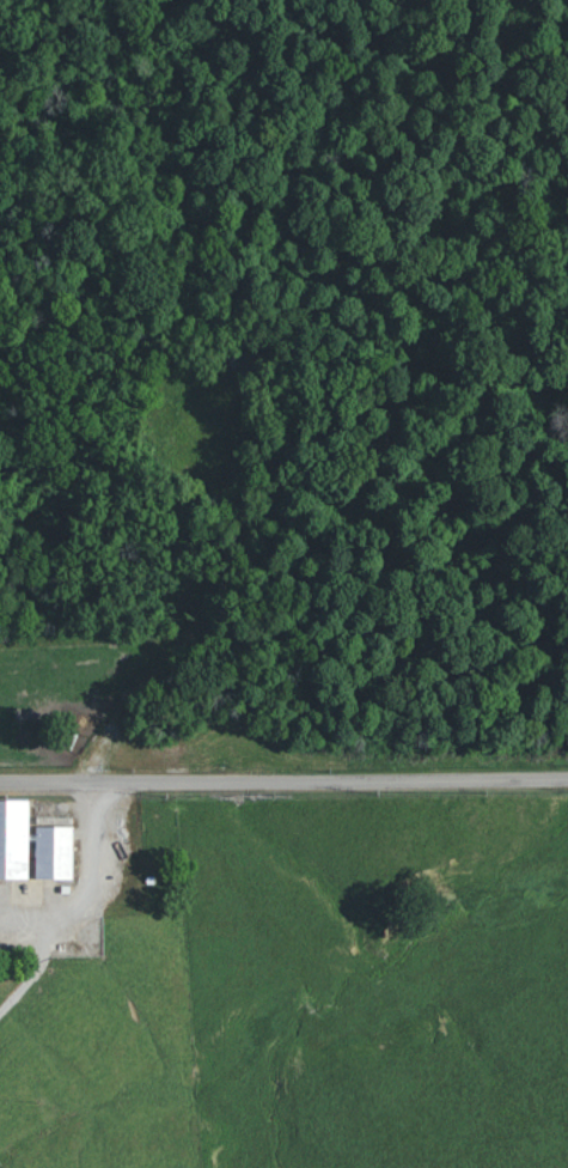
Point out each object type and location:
road: (283, 780)
building: (14, 839)
building: (54, 848)
road: (90, 881)

